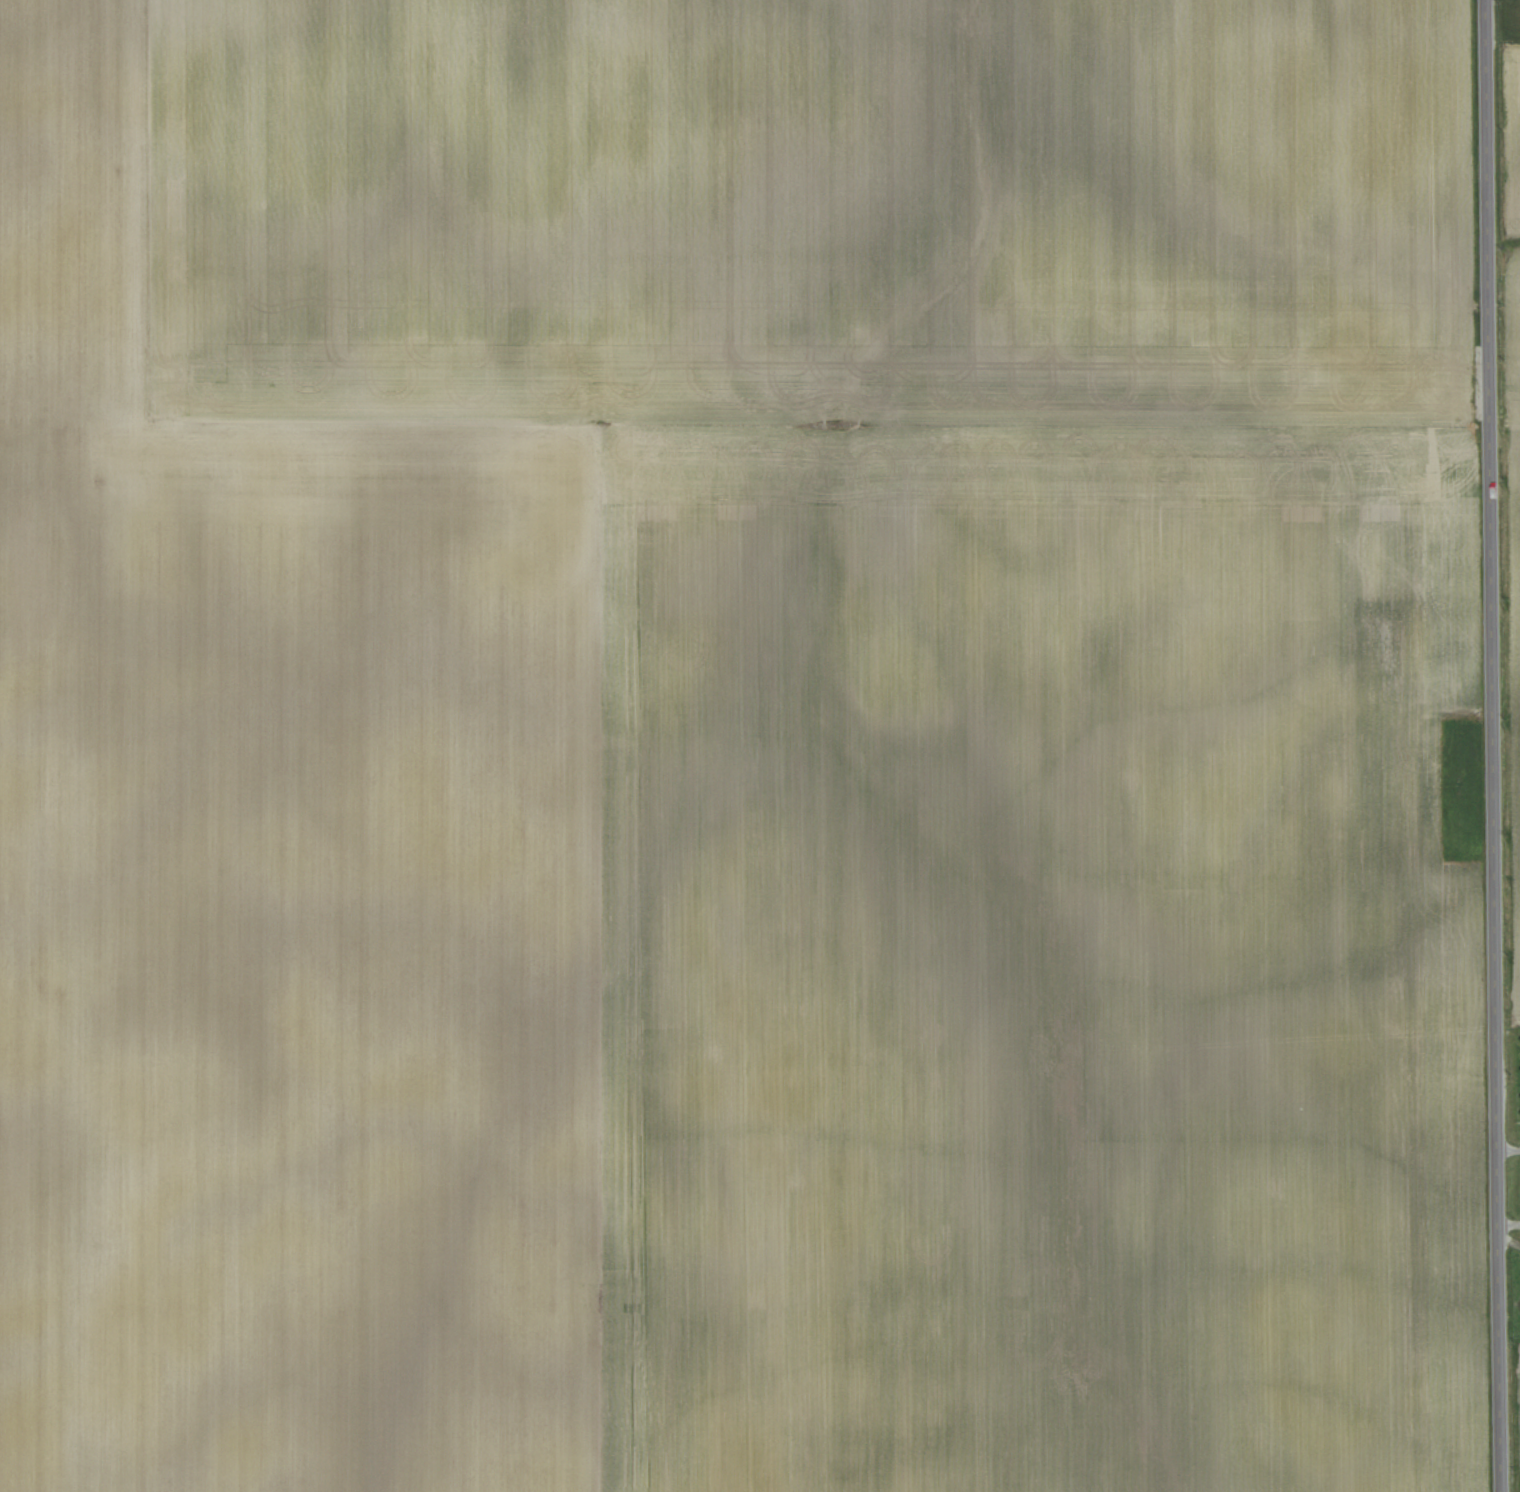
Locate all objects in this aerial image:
road: (1494, 746)

